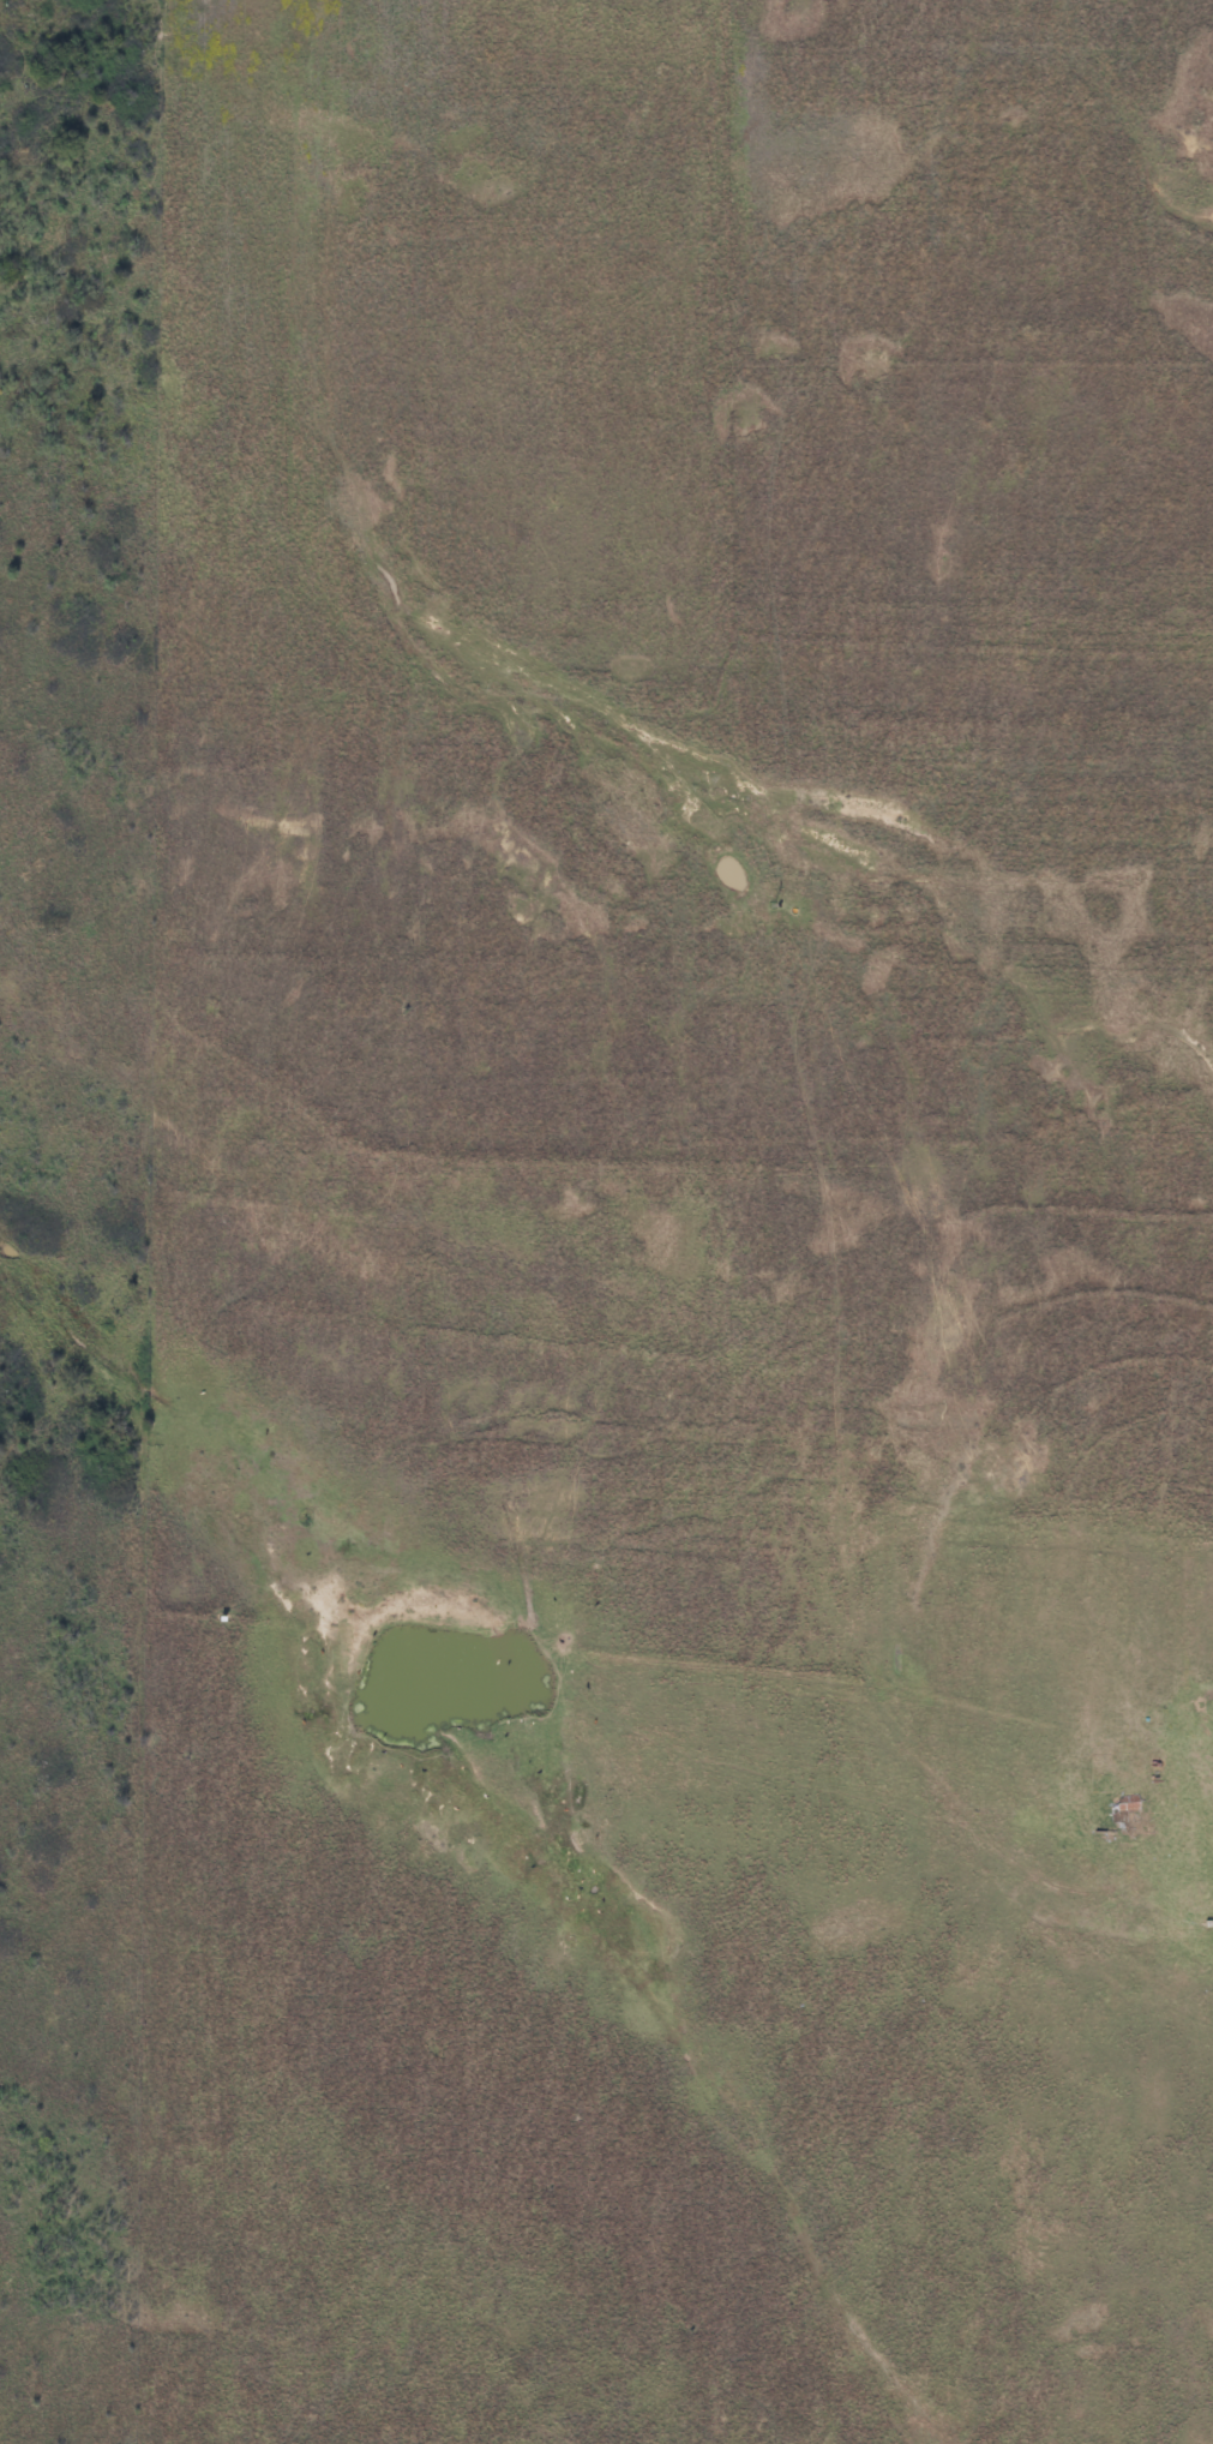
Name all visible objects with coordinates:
building: (1129, 1821)

